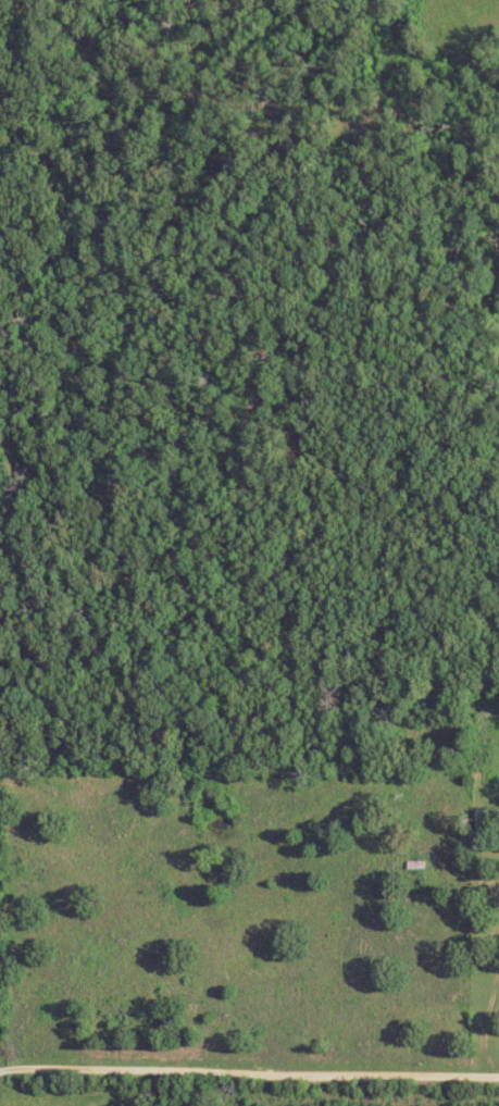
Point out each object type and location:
road: (248, 1071)

